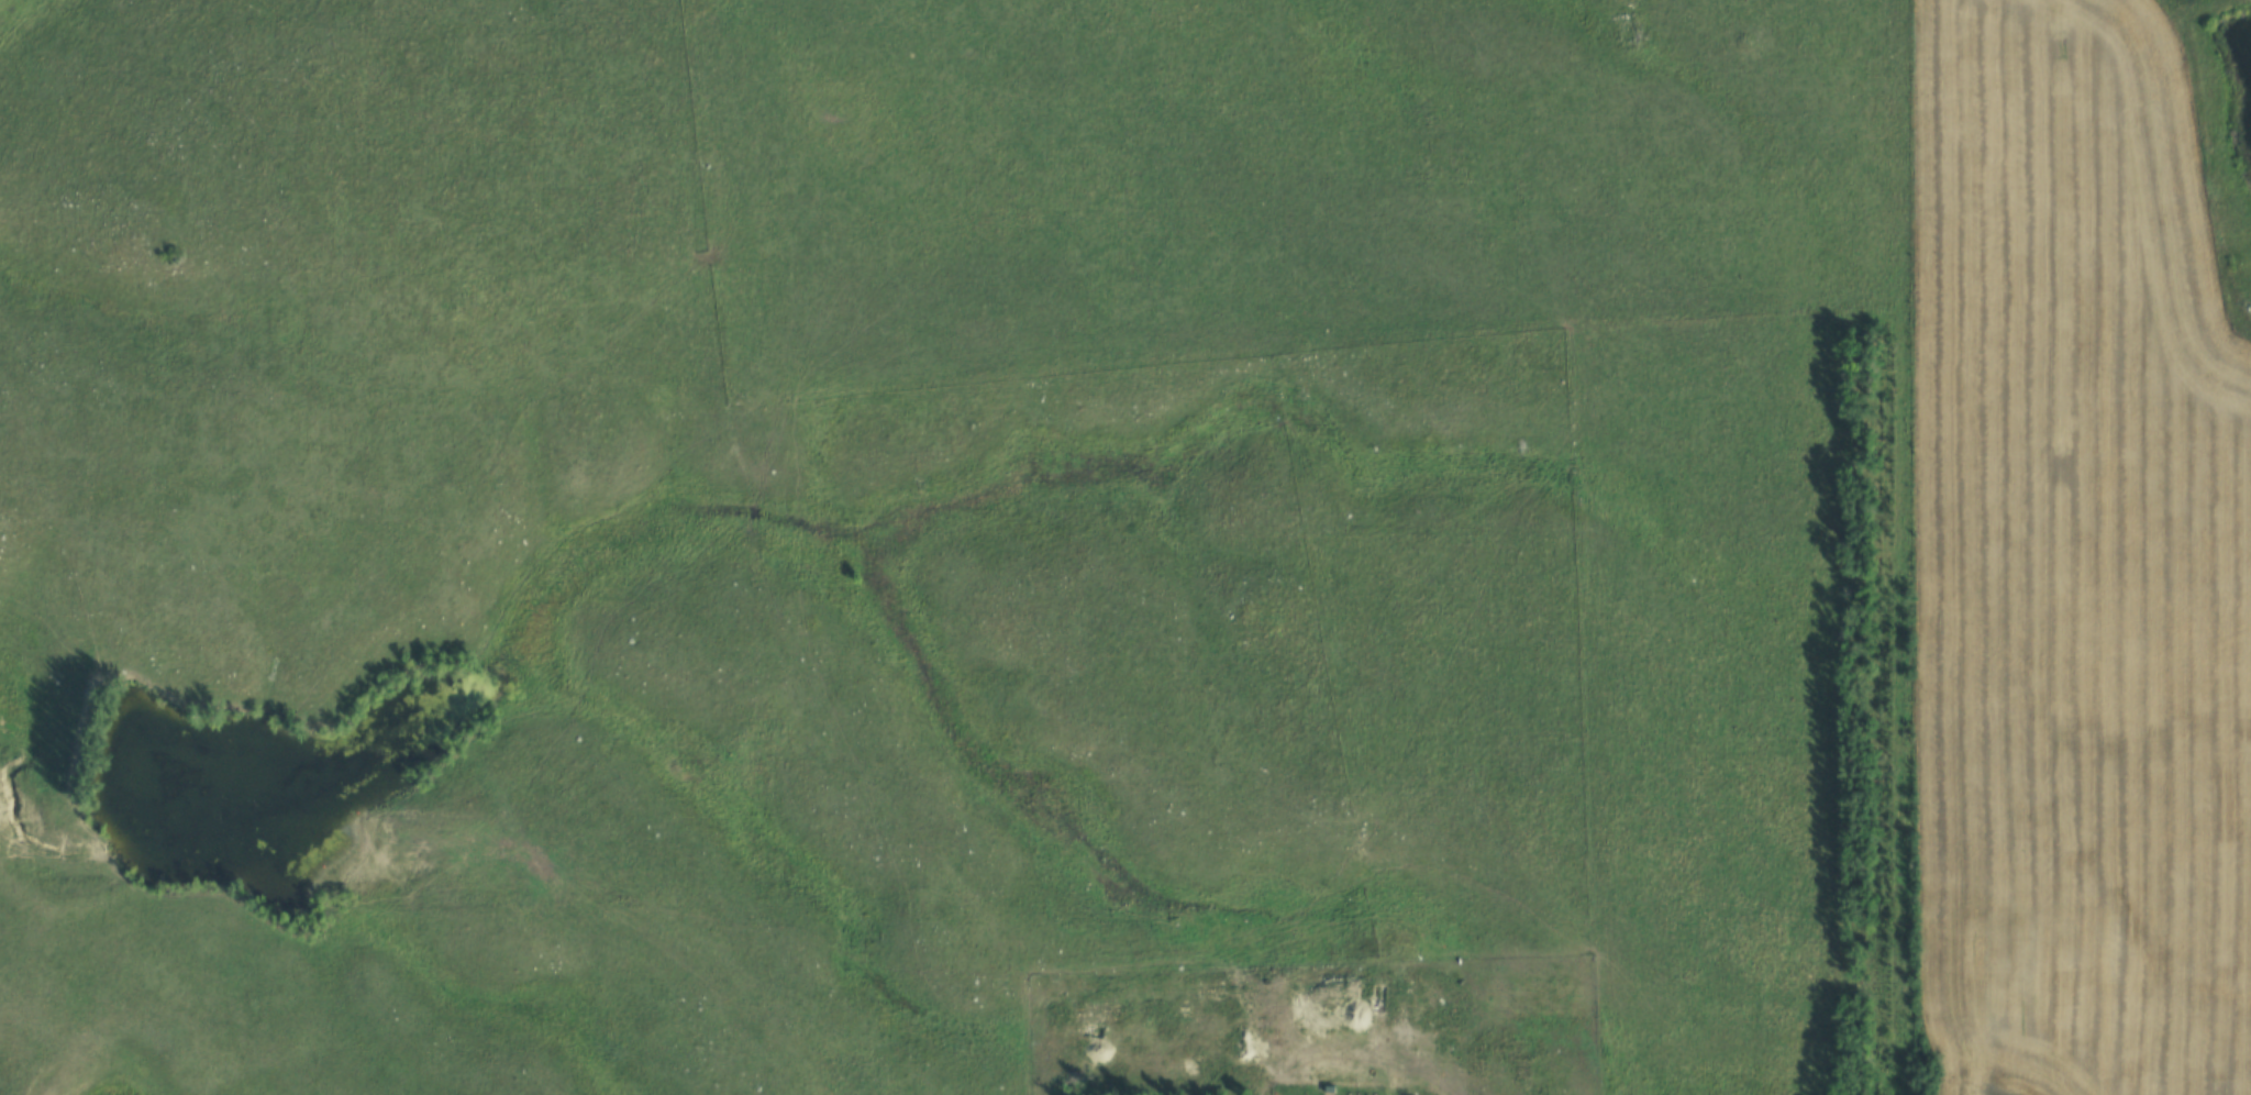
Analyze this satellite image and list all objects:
building: (1395, 999)

